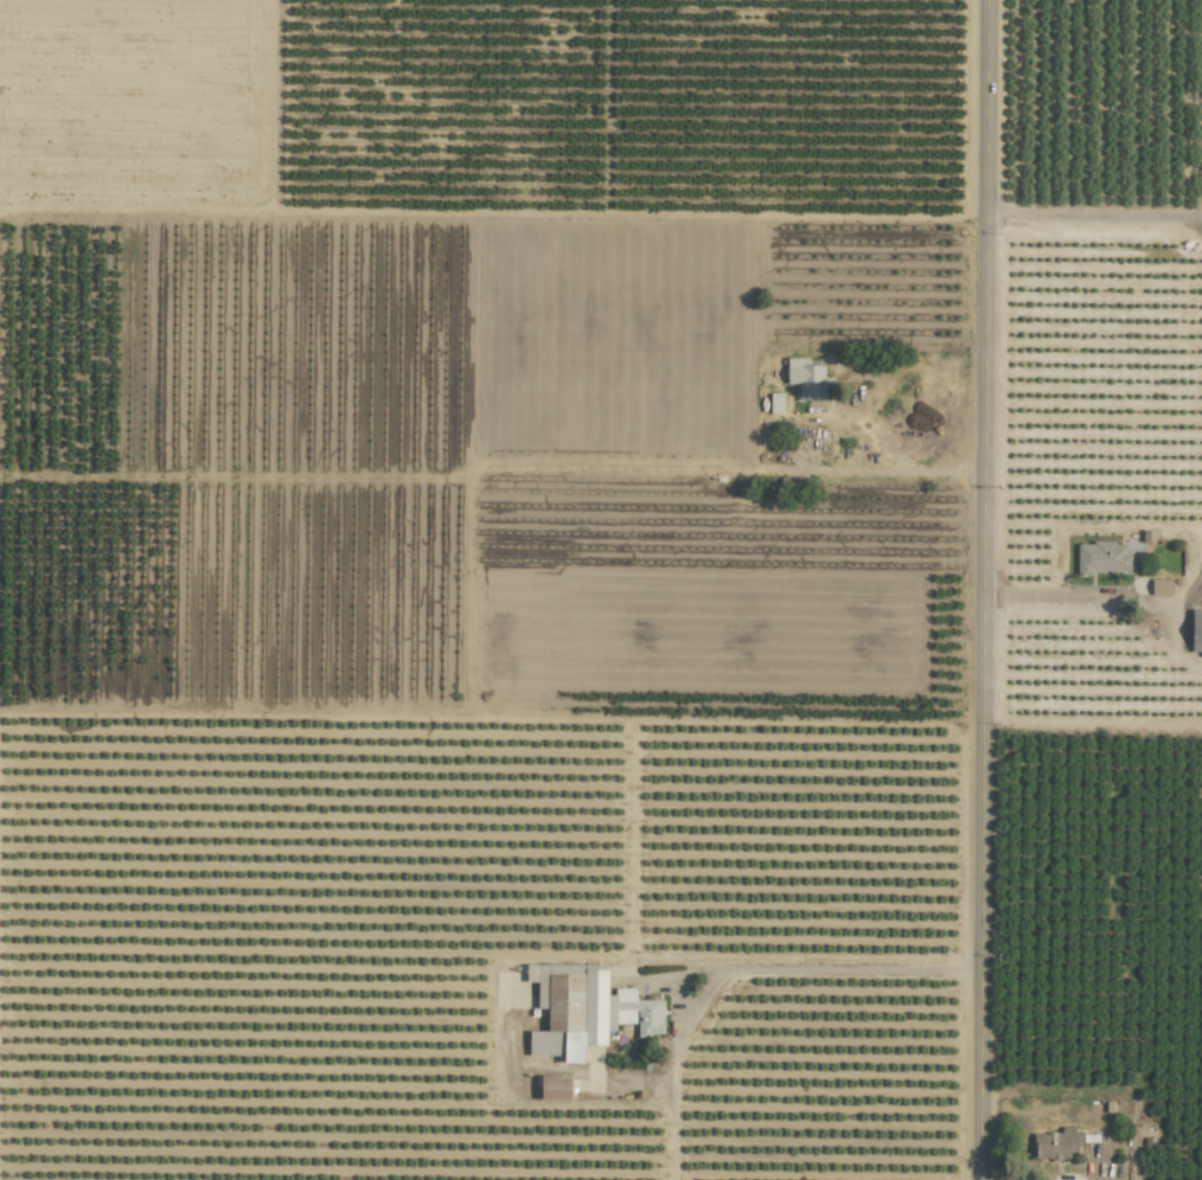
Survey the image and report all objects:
road: (1093, 222)
building: (806, 378)
building: (775, 403)
road: (889, 470)
building: (1101, 558)
building: (1161, 586)
road: (983, 590)
road: (1049, 595)
road: (1092, 726)
road: (740, 968)
building: (584, 1009)
building: (555, 1088)
building: (1056, 1143)

